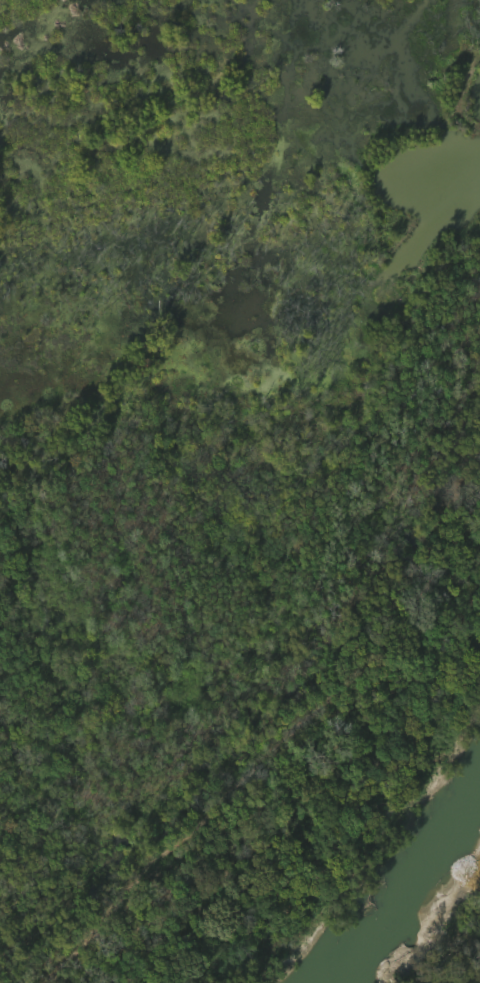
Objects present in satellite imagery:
river: (395, 881)

